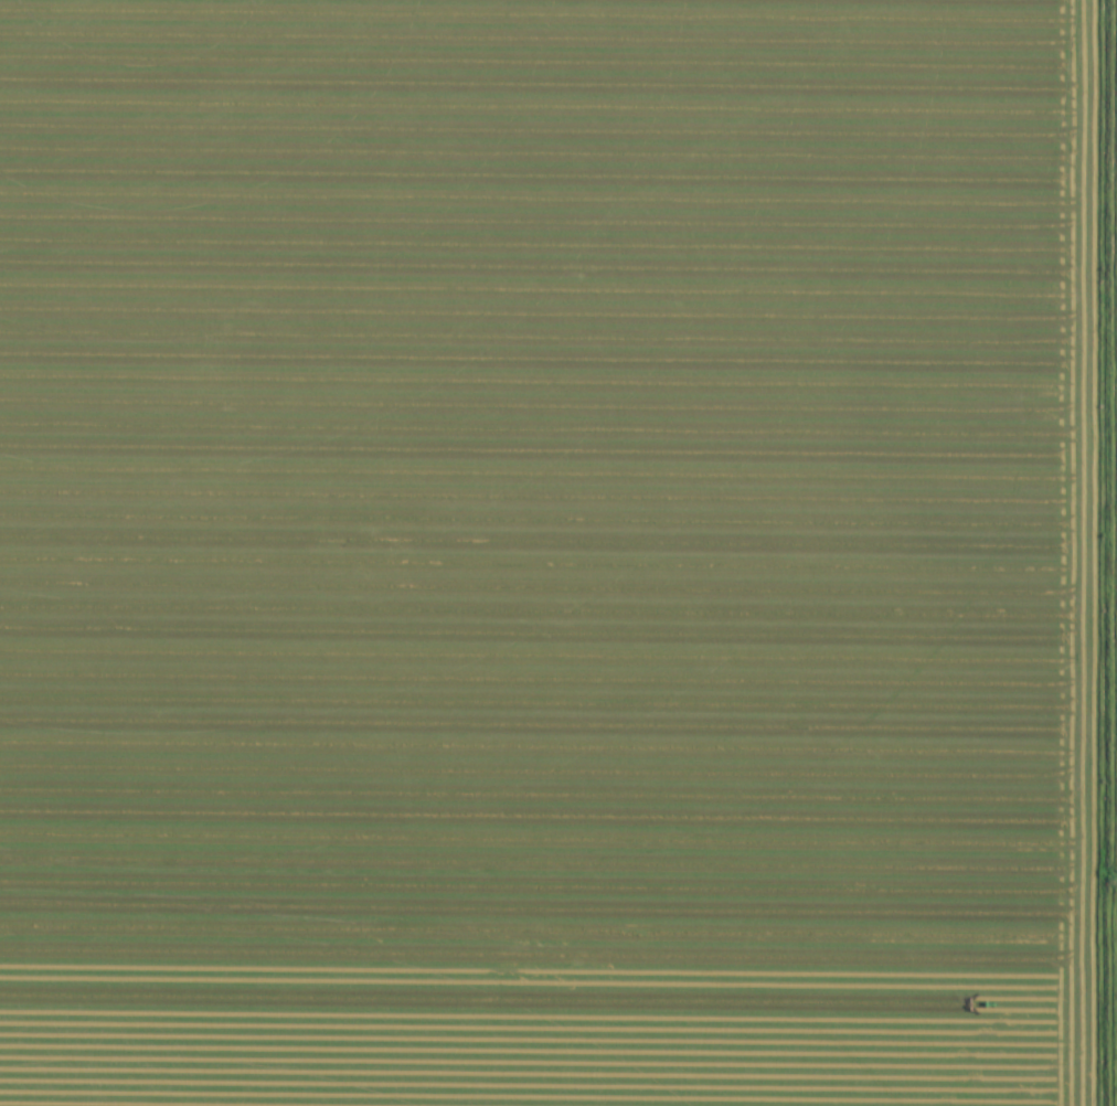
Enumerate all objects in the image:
crop: (558, 553)

